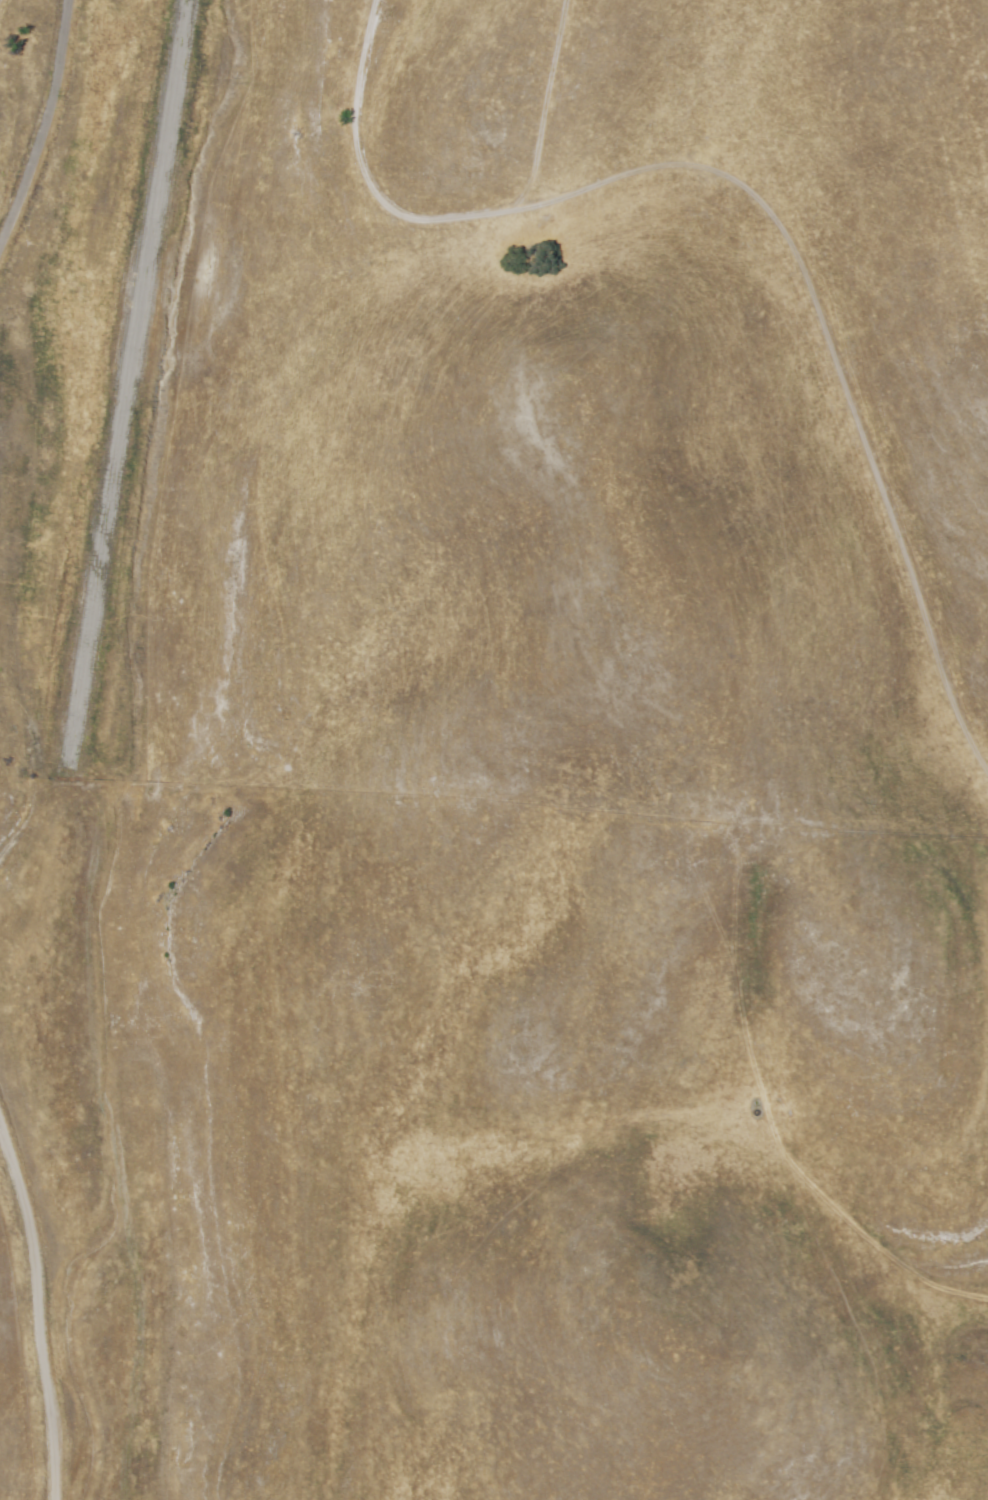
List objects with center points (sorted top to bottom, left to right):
road: (782, 164)
road: (52, 267)
road: (41, 1315)

